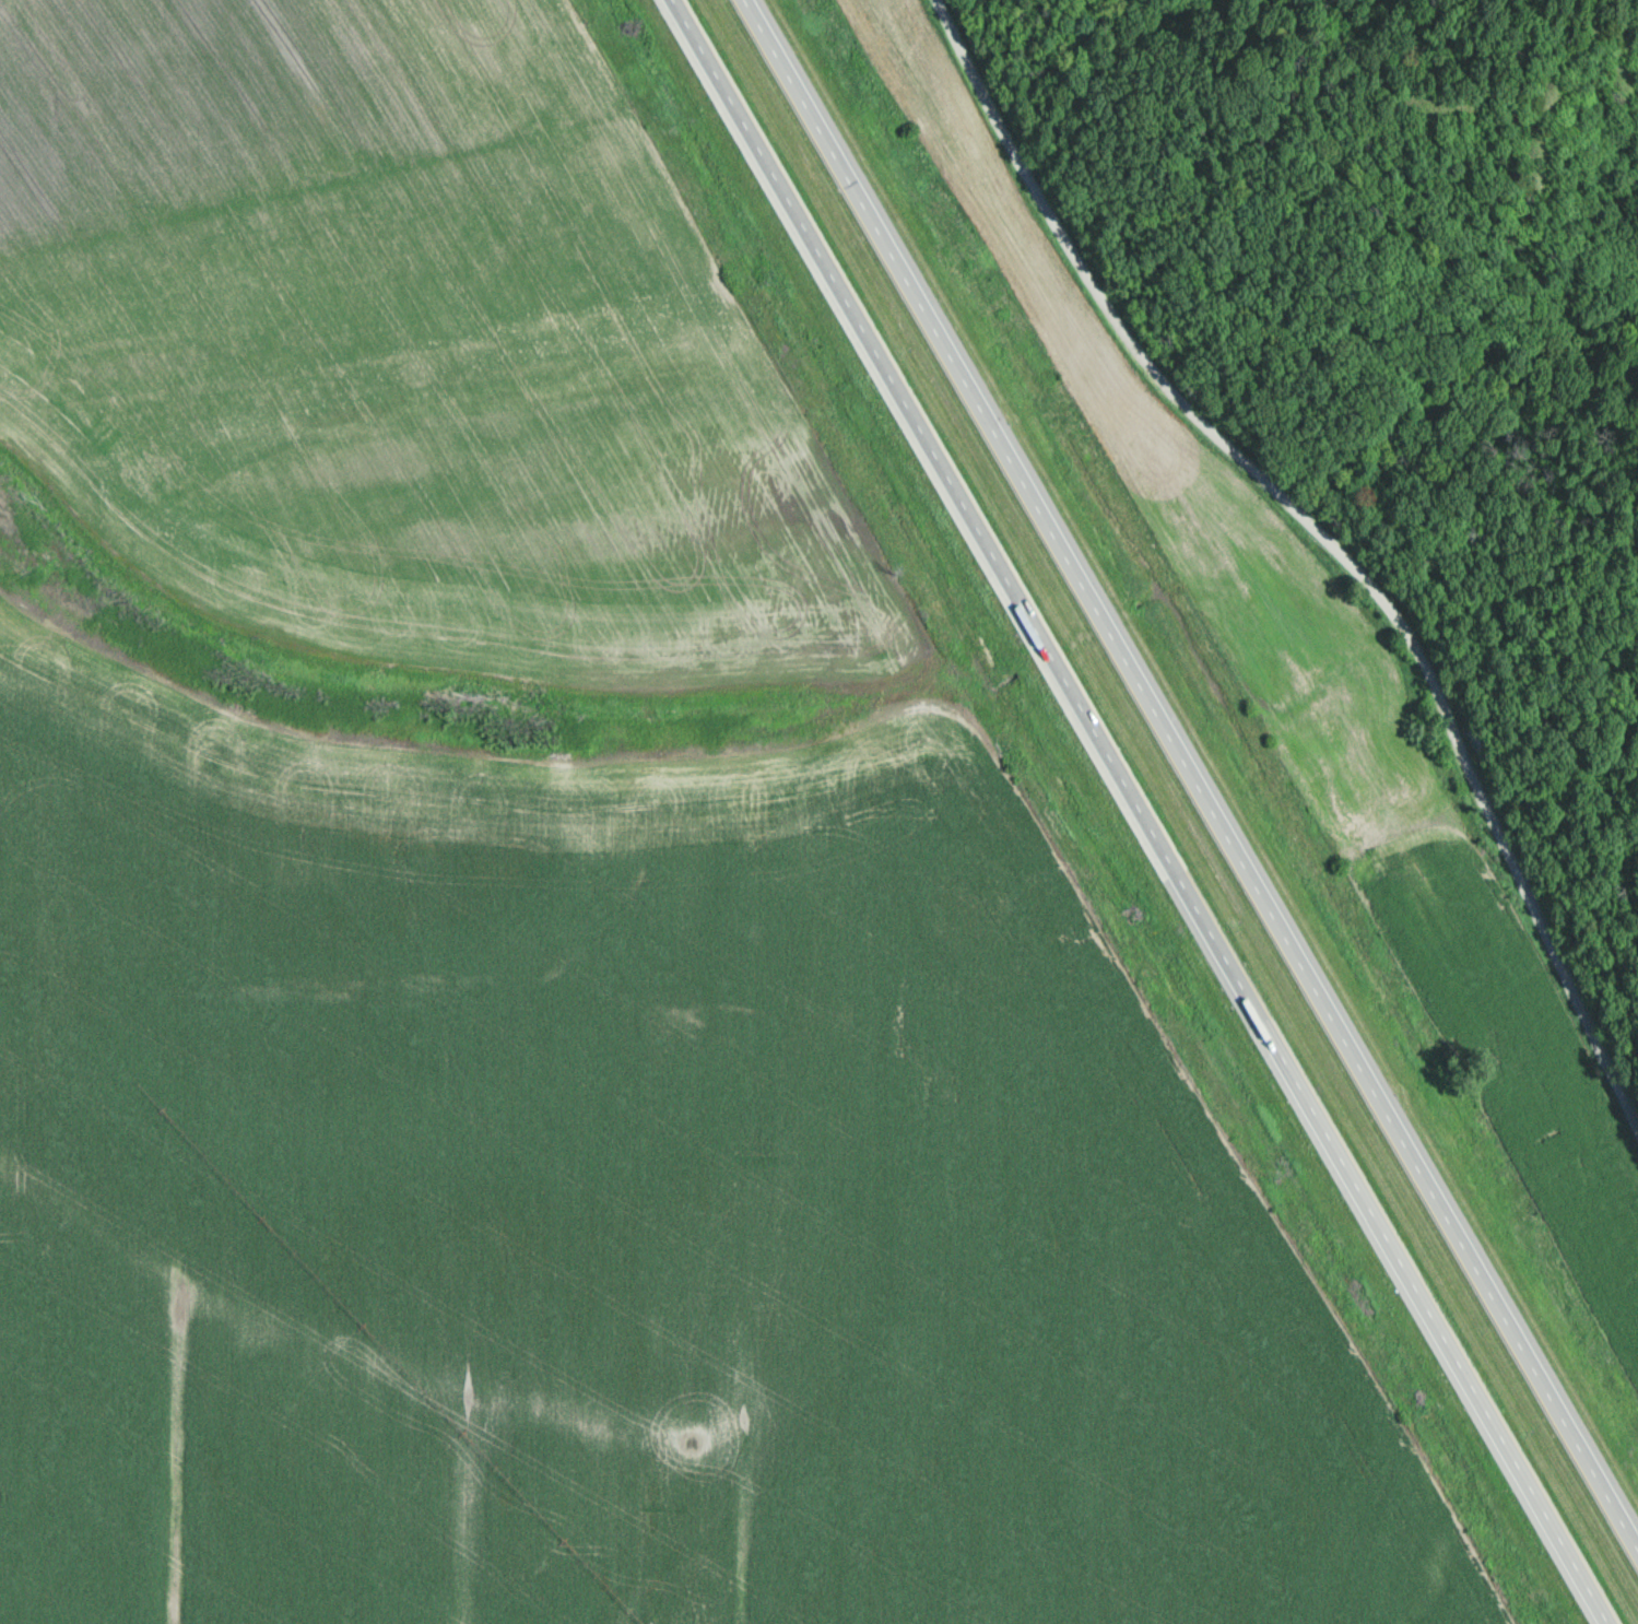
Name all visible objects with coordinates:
road: (1327, 532)
building: (1087, 738)
road: (1195, 766)
road: (1140, 812)

